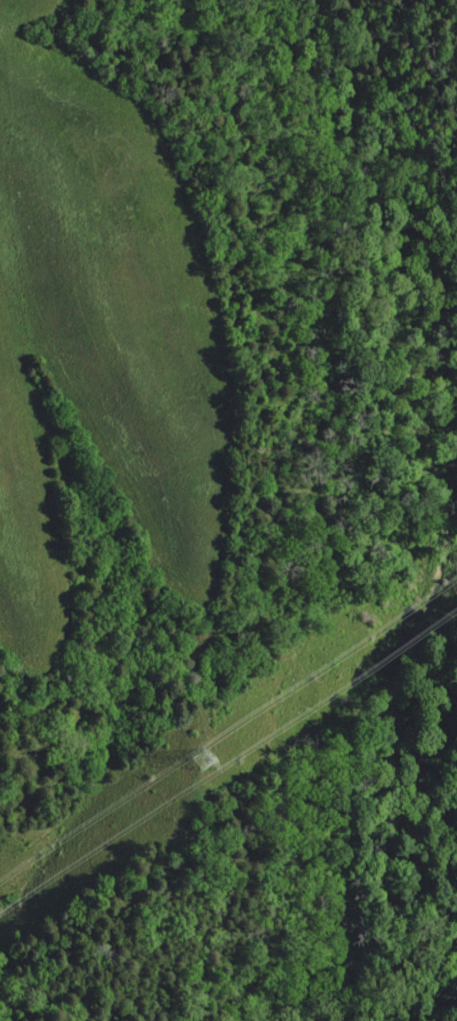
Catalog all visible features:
power tower: (204, 757)

